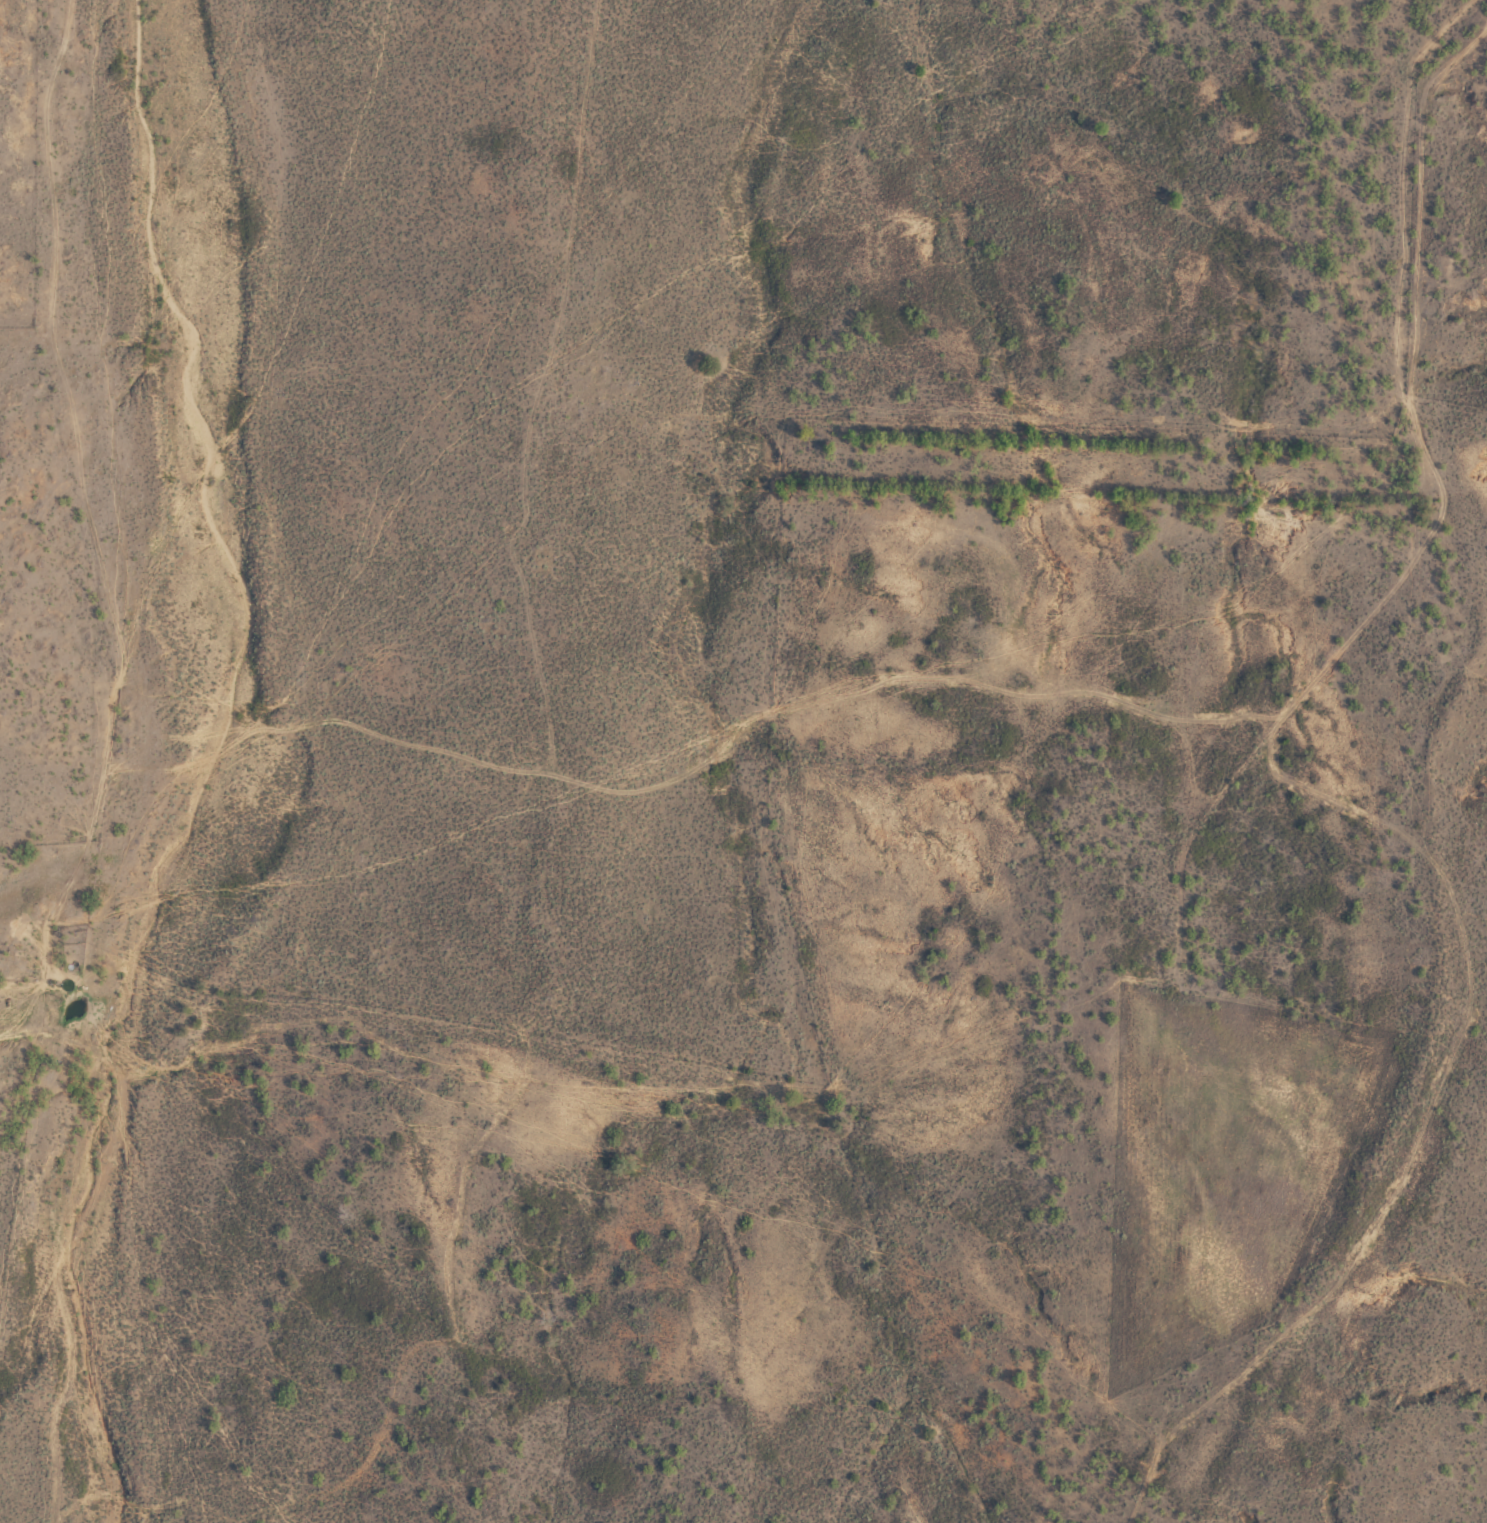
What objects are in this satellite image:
road: (108, 518)
road: (1268, 742)

